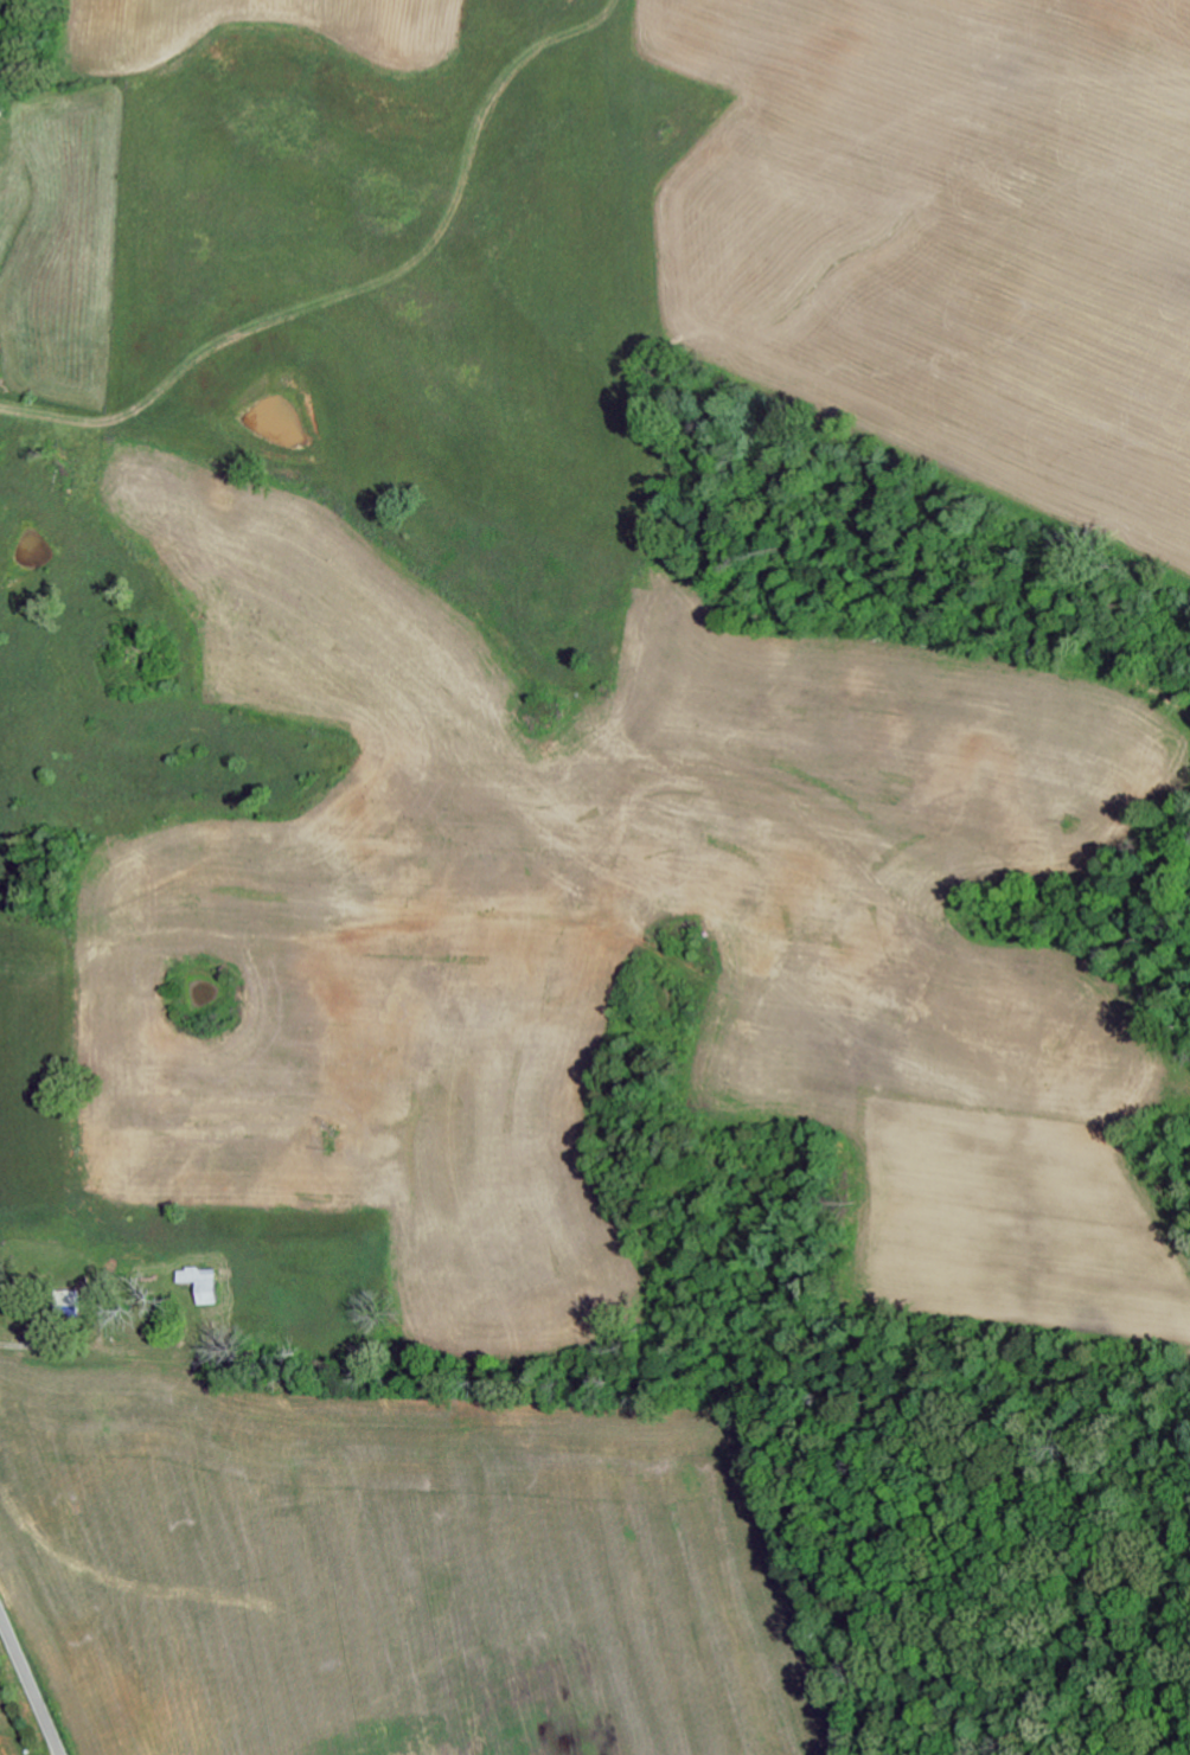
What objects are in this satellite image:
building: (1, 110)
road: (100, 916)
road: (30, 1683)
road: (15, 1684)

